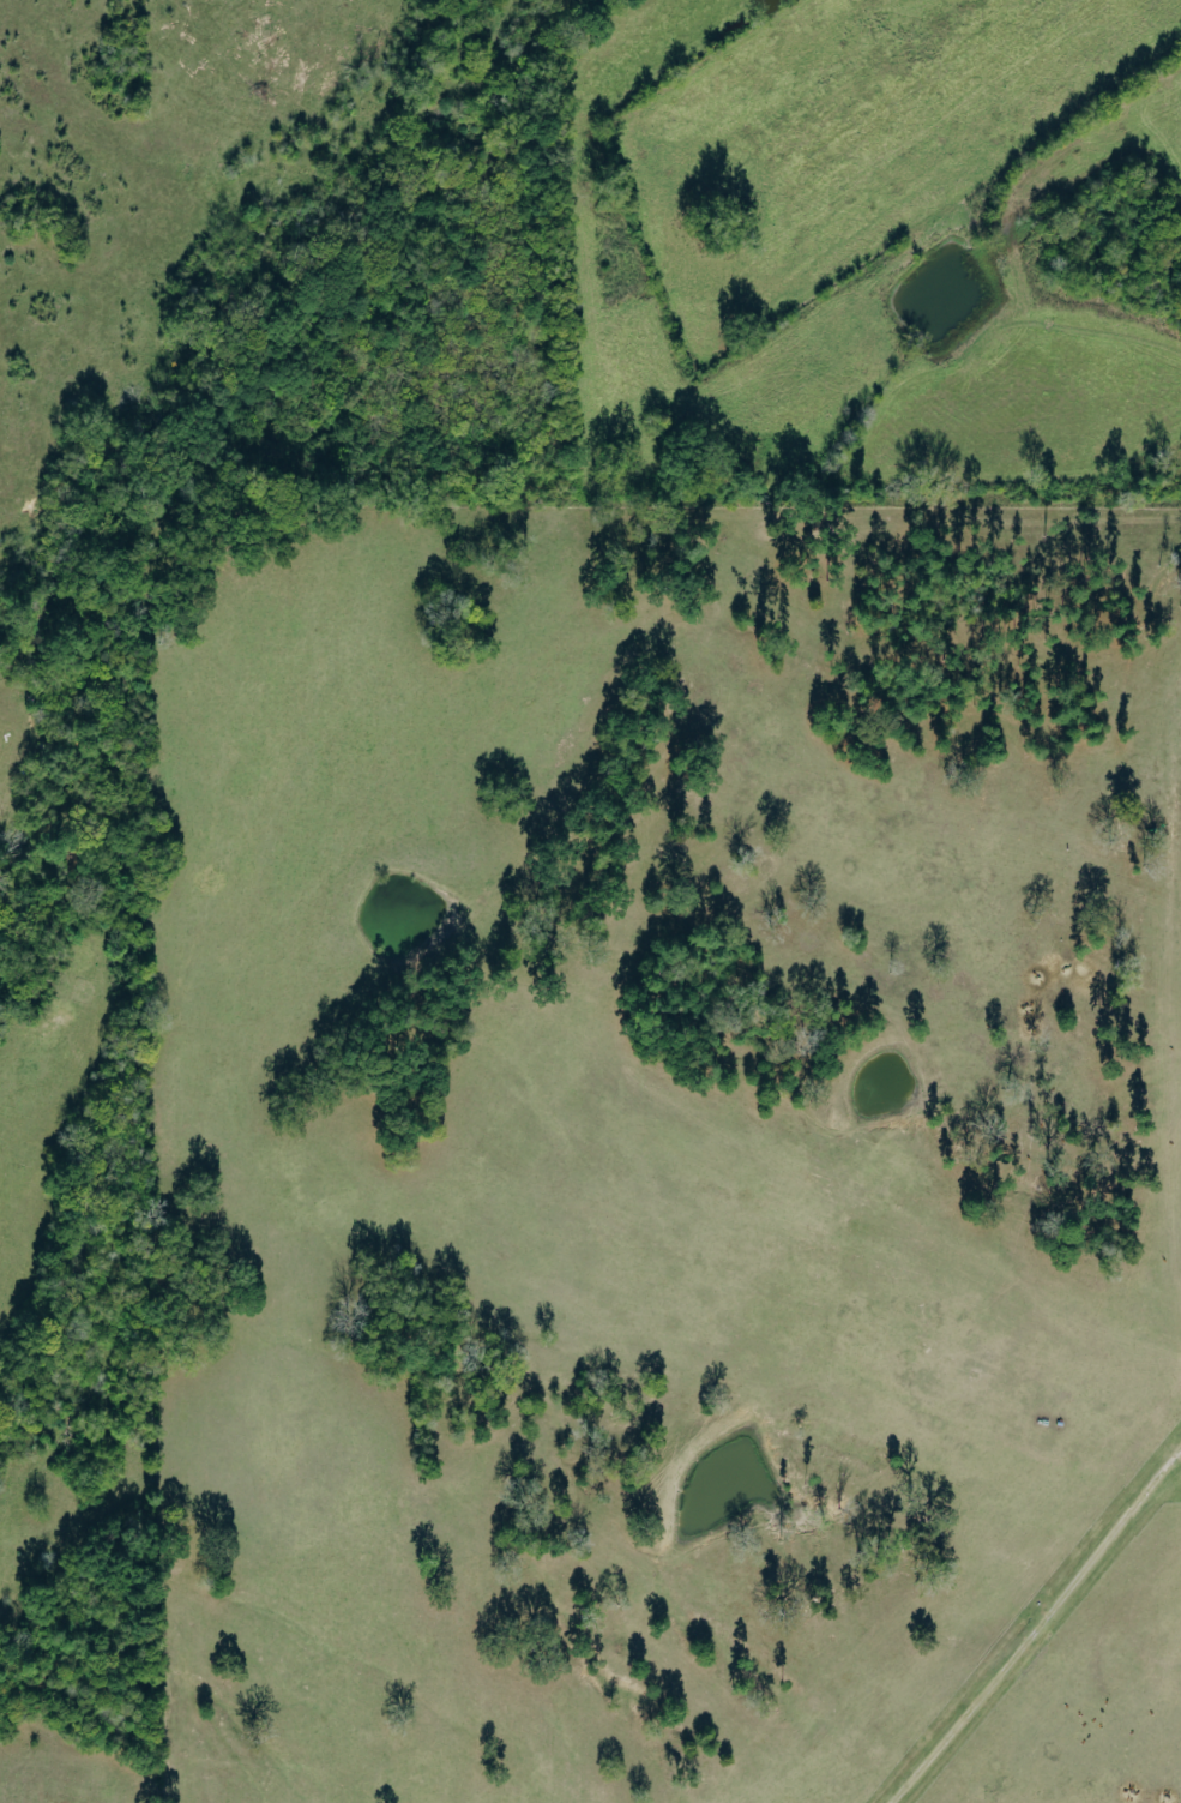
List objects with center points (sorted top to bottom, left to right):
road: (941, 252)

